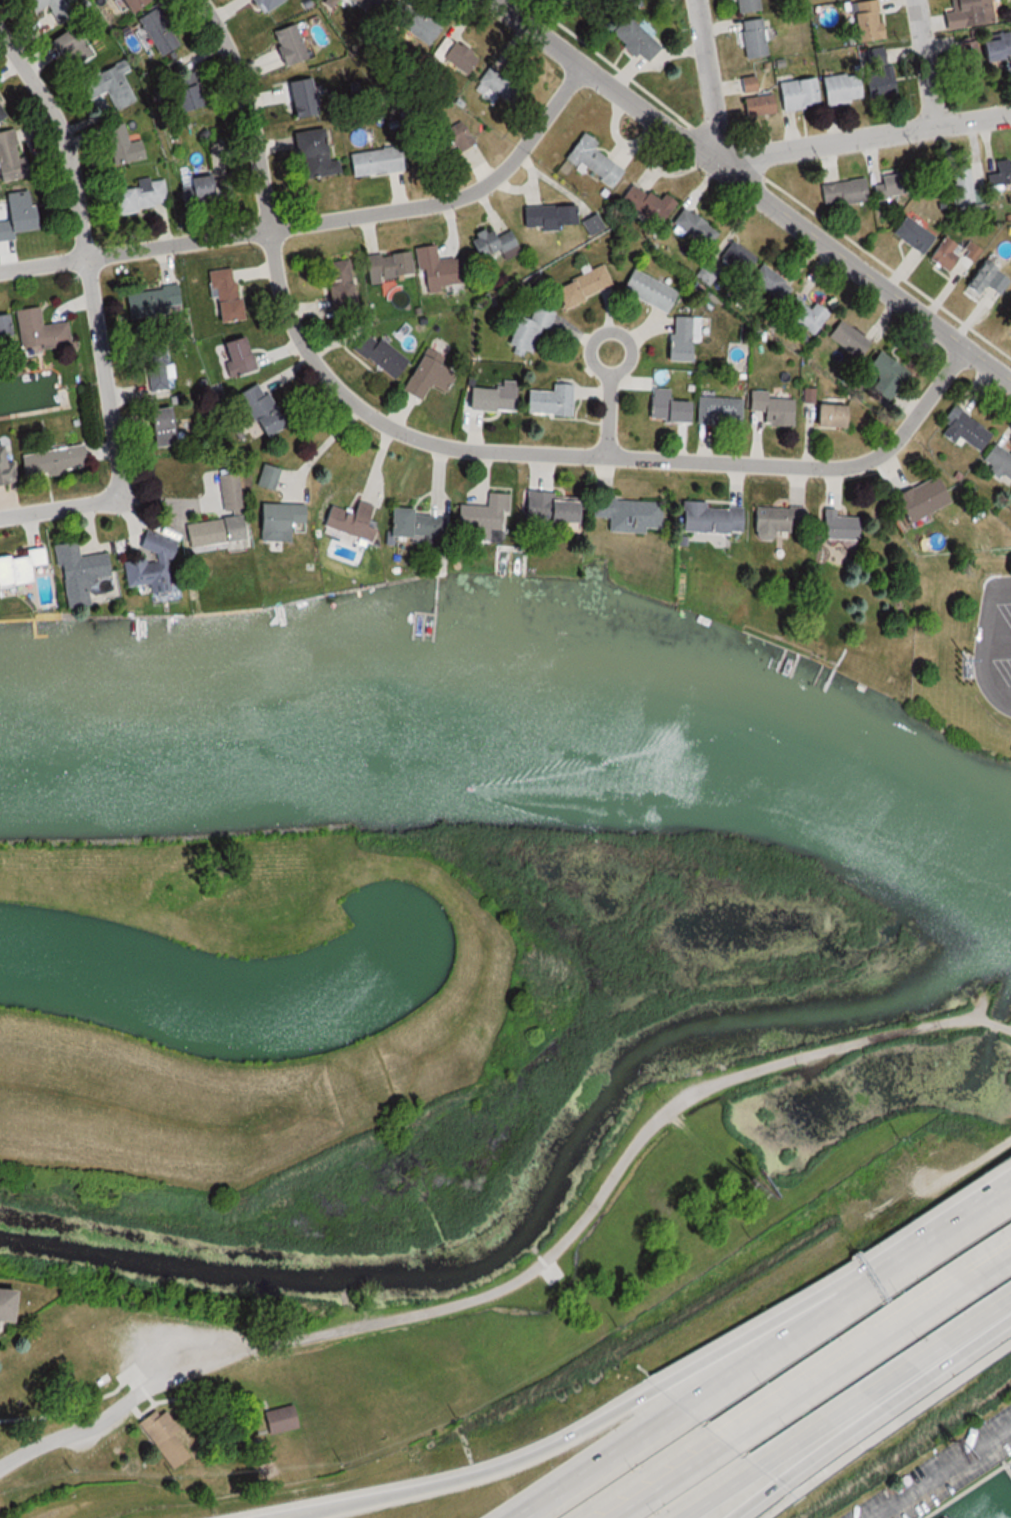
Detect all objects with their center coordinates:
building: (575, 0)
building: (562, 2)
building: (628, 3)
building: (128, 4)
building: (264, 5)
building: (368, 6)
building: (745, 6)
building: (51, 9)
building: (968, 13)
building: (865, 20)
building: (412, 23)
building: (154, 32)
building: (751, 38)
building: (633, 40)
building: (285, 45)
building: (70, 46)
building: (984, 50)
building: (453, 57)
road: (927, 63)
building: (878, 75)
road: (708, 81)
building: (748, 84)
building: (108, 85)
building: (499, 86)
building: (839, 88)
building: (795, 94)
building: (183, 97)
building: (299, 97)
building: (755, 105)
road: (865, 138)
building: (440, 144)
building: (120, 145)
building: (308, 154)
building: (9, 158)
building: (591, 161)
building: (372, 162)
building: (1002, 171)
building: (958, 184)
building: (891, 186)
building: (203, 188)
road: (755, 189)
building: (842, 192)
building: (138, 196)
building: (646, 202)
building: (14, 214)
building: (554, 217)
road: (321, 221)
building: (694, 227)
building: (910, 233)
building: (490, 246)
building: (952, 253)
road: (78, 257)
building: (736, 258)
building: (386, 265)
building: (434, 270)
building: (985, 281)
building: (769, 282)
building: (337, 287)
building: (586, 288)
building: (222, 295)
building: (654, 296)
building: (150, 302)
building: (803, 313)
building: (2, 328)
building: (36, 331)
building: (528, 333)
building: (679, 338)
building: (846, 338)
road: (634, 346)
building: (376, 355)
building: (234, 356)
building: (152, 369)
building: (882, 373)
building: (424, 378)
building: (487, 399)
building: (547, 401)
building: (769, 408)
building: (258, 409)
building: (667, 410)
building: (718, 410)
road: (611, 415)
building: (825, 416)
building: (157, 427)
building: (964, 428)
road: (454, 447)
building: (51, 461)
building: (998, 461)
building: (5, 472)
building: (229, 491)
building: (918, 500)
road: (56, 506)
building: (545, 507)
building: (625, 514)
building: (708, 518)
building: (279, 519)
building: (478, 519)
building: (775, 520)
building: (345, 521)
building: (413, 525)
building: (836, 526)
building: (213, 531)
building: (148, 562)
building: (17, 566)
building: (75, 569)
road: (996, 642)
road: (980, 645)
road: (999, 689)
river: (519, 742)
park: (370, 1004)
road: (841, 1048)
park: (468, 1281)
road: (835, 1293)
building: (8, 1305)
road: (860, 1305)
road: (369, 1325)
road: (868, 1346)
road: (887, 1392)
road: (76, 1411)
building: (275, 1419)
building: (161, 1435)
road: (627, 1461)
pier: (1007, 1466)
road: (939, 1471)
road: (485, 1476)
road: (666, 1479)
road: (730, 1497)
road: (737, 1497)

